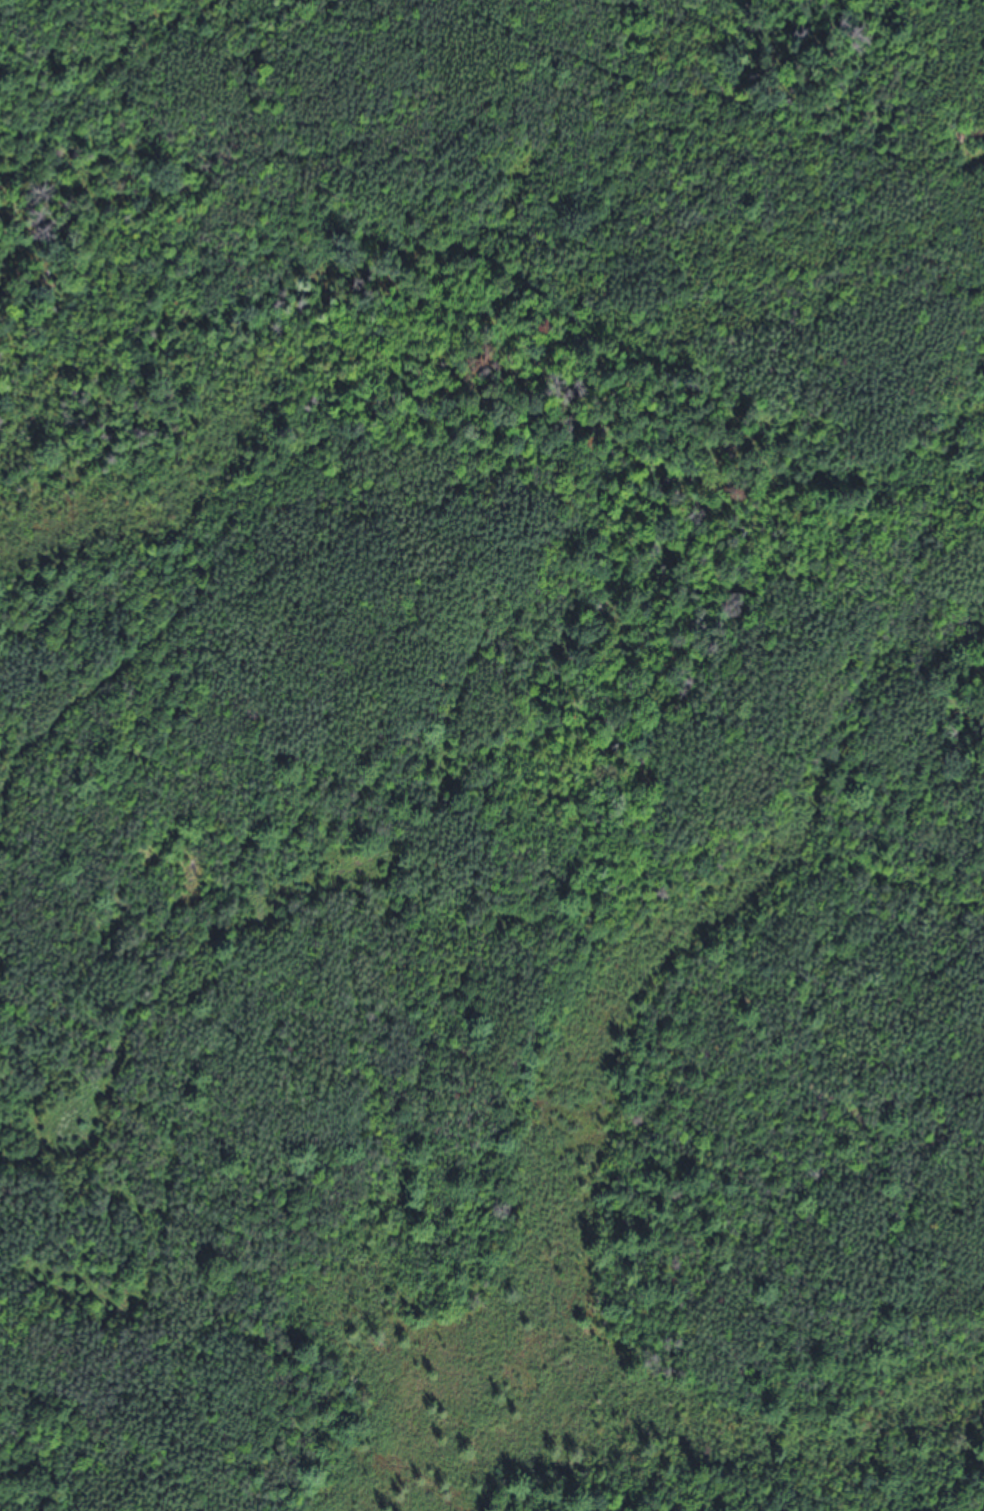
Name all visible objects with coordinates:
road: (977, 1506)

